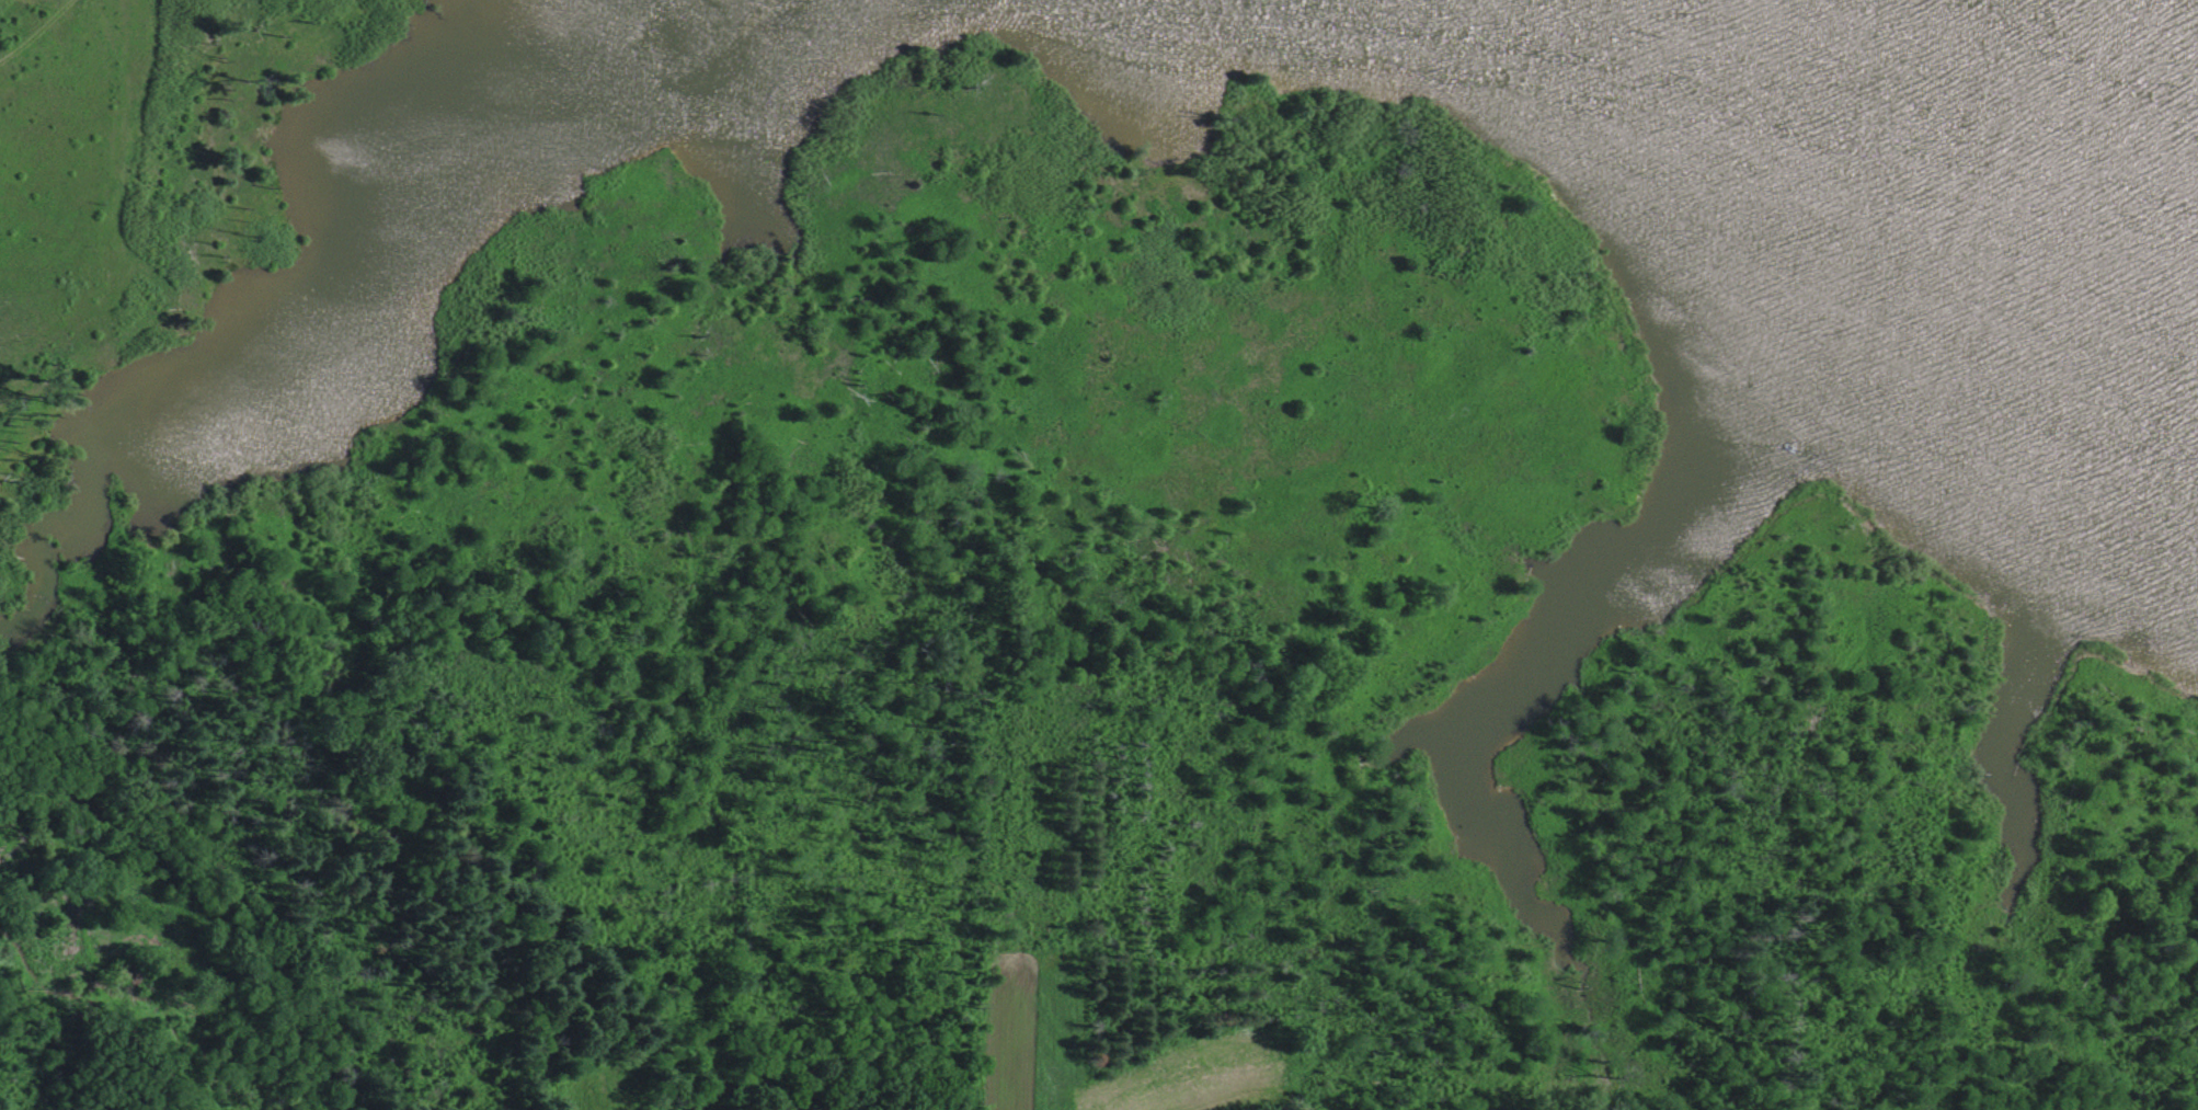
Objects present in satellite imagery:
road: (31, 27)
river: (2097, 52)

